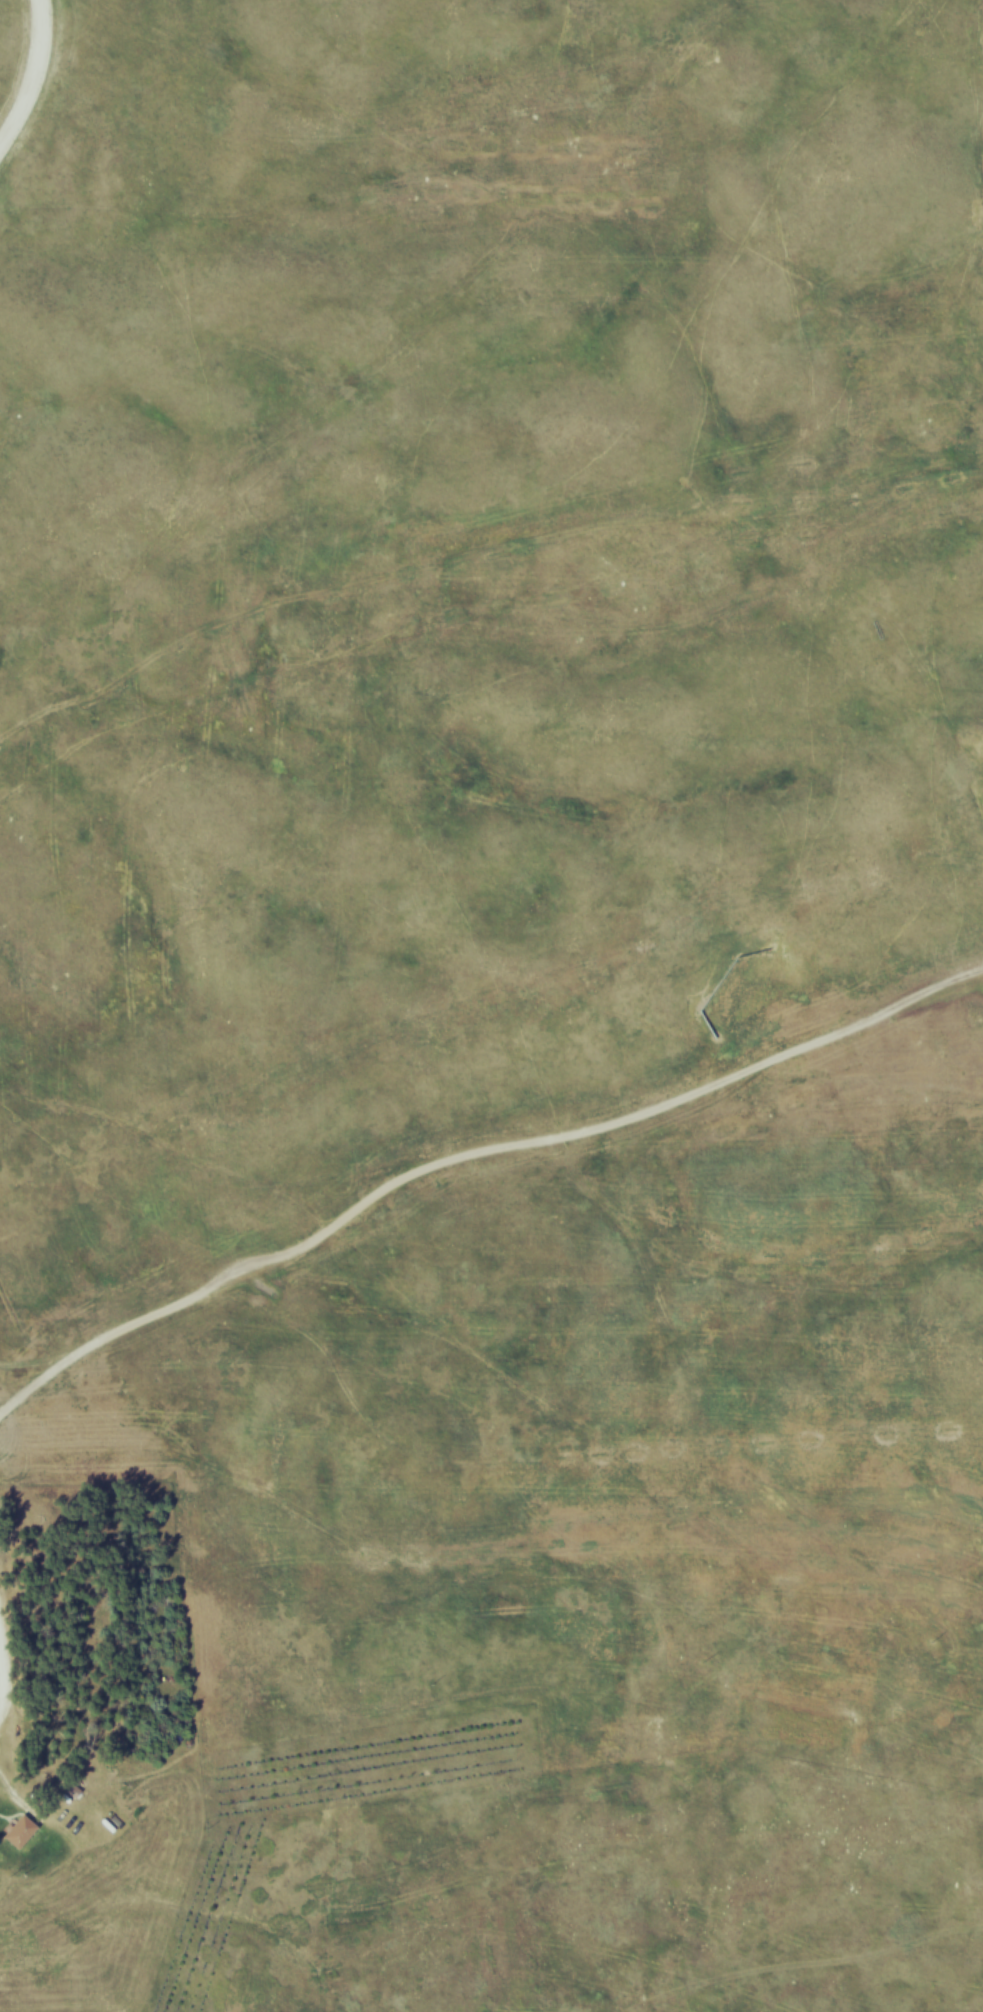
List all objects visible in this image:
road: (24, 65)
road: (482, 1161)
road: (46, 1392)
road: (0, 1678)
road: (30, 1820)
building: (27, 1831)

